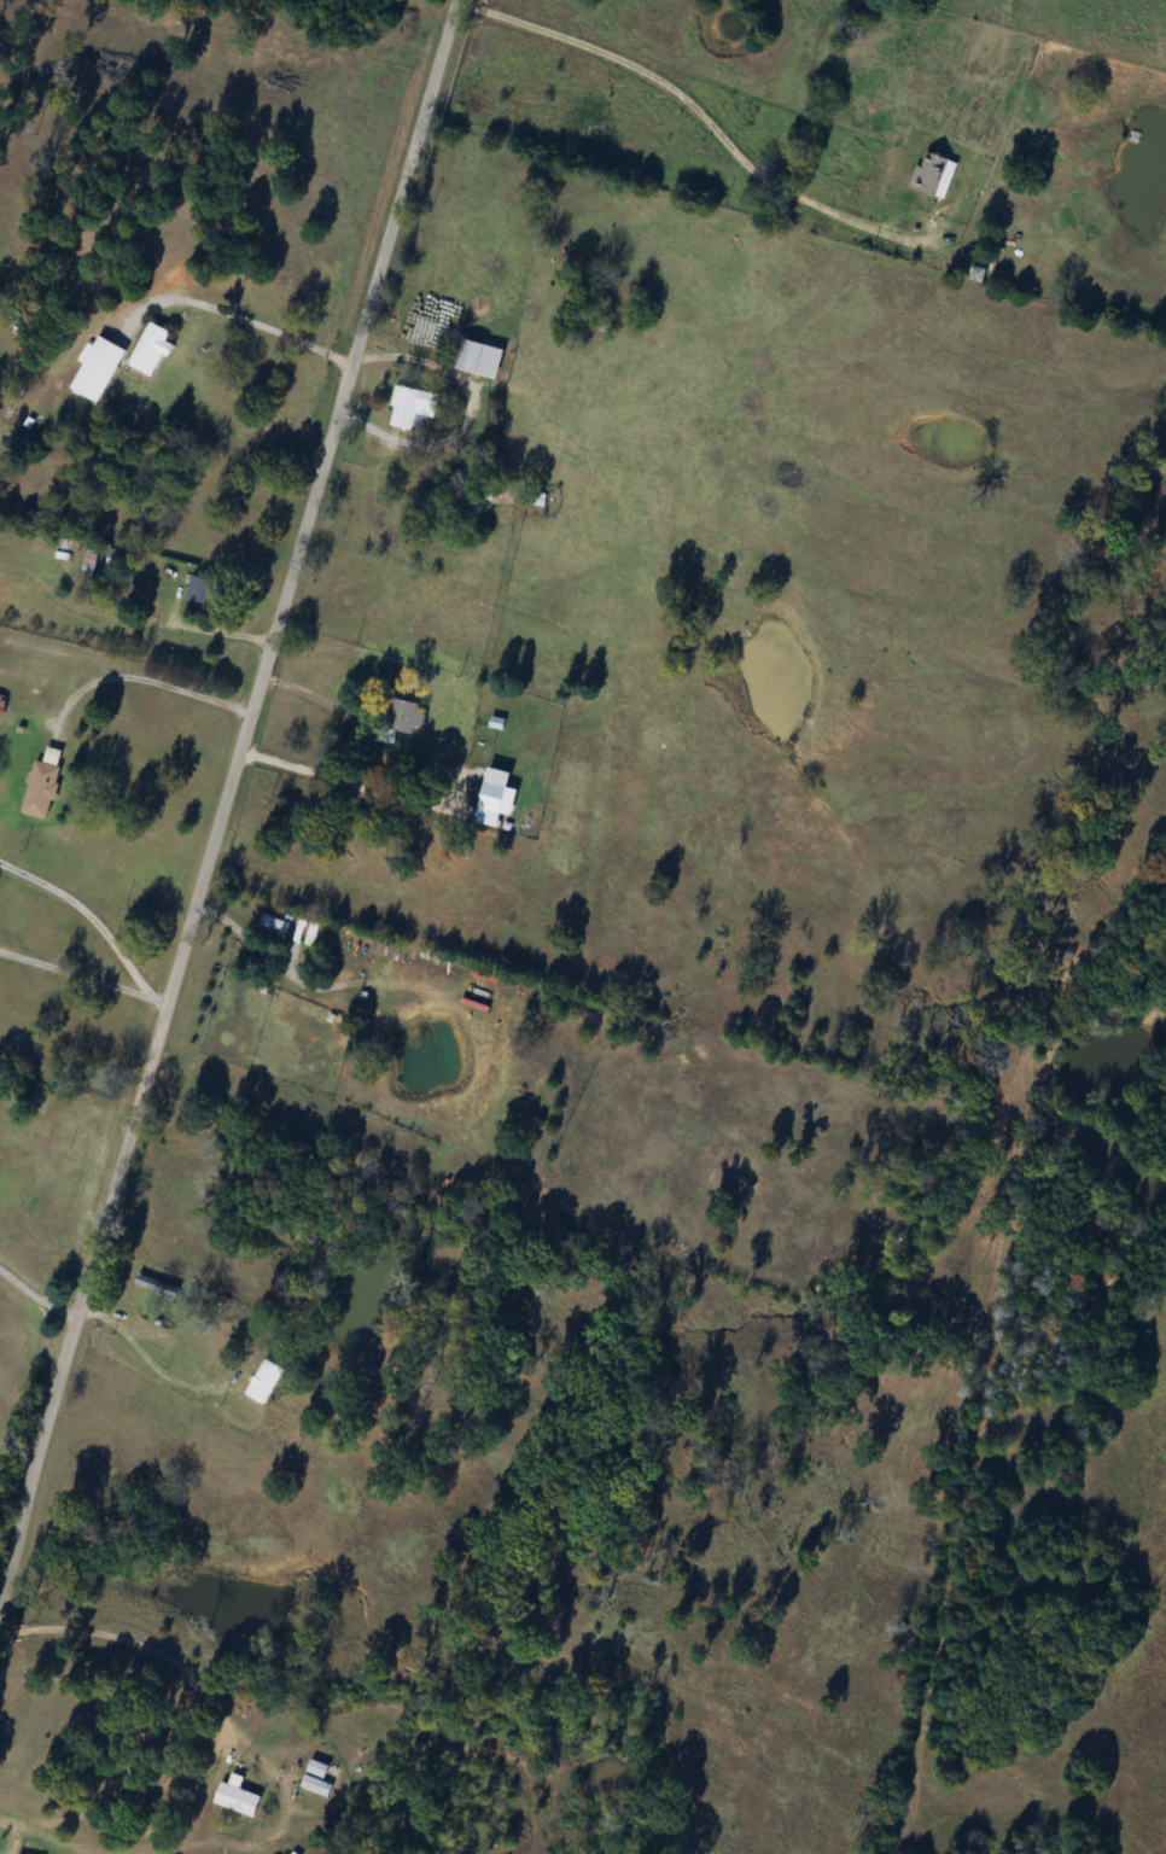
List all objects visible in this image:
road: (670, 97)
building: (934, 173)
road: (920, 227)
road: (246, 316)
building: (152, 345)
building: (473, 356)
building: (100, 368)
building: (413, 407)
road: (464, 419)
building: (89, 561)
building: (204, 590)
road: (148, 680)
road: (314, 693)
building: (404, 717)
road: (330, 772)
building: (43, 786)
road: (227, 787)
road: (88, 910)
building: (276, 923)
road: (82, 974)
road: (36, 1292)
road: (148, 1355)
building: (266, 1381)
building: (161, 1450)
road: (136, 1643)
building: (317, 1776)
building: (239, 1797)

